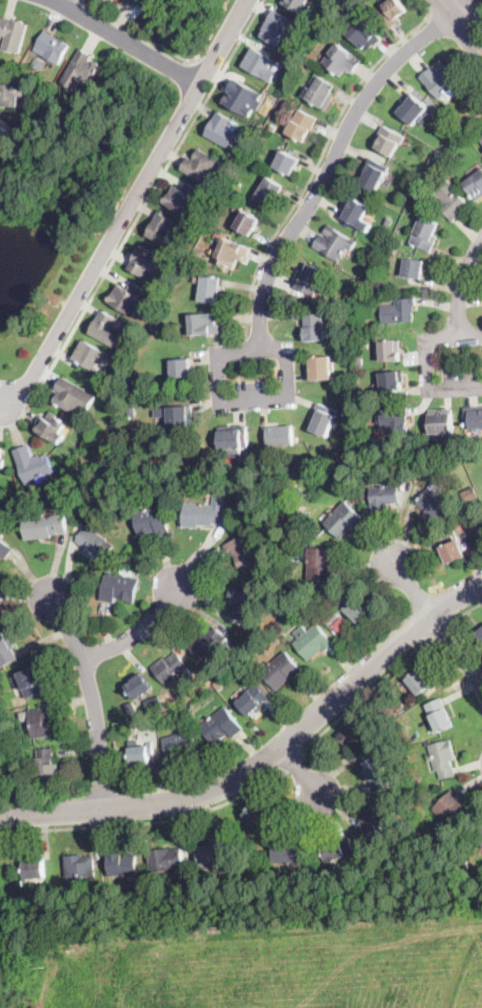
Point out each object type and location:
building: (113, 0)
road: (59, 1)
building: (134, 2)
building: (296, 4)
road: (438, 7)
building: (154, 8)
road: (472, 8)
building: (392, 12)
road: (479, 18)
building: (276, 27)
road: (462, 27)
building: (310, 32)
building: (364, 34)
building: (13, 35)
road: (140, 35)
road: (127, 41)
building: (53, 47)
building: (341, 60)
building: (37, 65)
building: (260, 65)
road: (208, 67)
building: (80, 70)
building: (442, 80)
building: (321, 92)
building: (43, 94)
building: (11, 95)
building: (243, 97)
building: (411, 108)
building: (462, 124)
building: (302, 125)
building: (272, 127)
building: (453, 129)
building: (2, 131)
building: (223, 131)
building: (388, 140)
building: (481, 140)
building: (438, 154)
road: (335, 155)
building: (287, 162)
road: (318, 162)
building: (432, 163)
building: (203, 169)
building: (371, 176)
building: (409, 180)
building: (475, 185)
building: (222, 188)
building: (269, 193)
building: (183, 199)
building: (450, 200)
road: (144, 204)
road: (130, 207)
building: (235, 207)
building: (354, 211)
building: (388, 221)
building: (215, 222)
building: (247, 223)
building: (164, 231)
building: (425, 234)
building: (334, 243)
building: (232, 253)
building: (147, 262)
building: (413, 268)
building: (368, 277)
building: (309, 279)
building: (210, 289)
building: (376, 290)
road: (458, 297)
building: (127, 298)
building: (398, 311)
building: (359, 322)
building: (203, 324)
building: (315, 327)
building: (107, 329)
building: (390, 351)
building: (92, 356)
building: (359, 361)
building: (181, 368)
building: (319, 368)
building: (392, 380)
building: (122, 388)
building: (74, 396)
road: (239, 400)
building: (131, 412)
building: (473, 417)
building: (180, 418)
building: (395, 419)
building: (324, 420)
building: (441, 422)
building: (52, 428)
building: (280, 436)
building: (233, 437)
building: (1, 453)
building: (32, 464)
building: (470, 492)
building: (300, 493)
building: (76, 494)
building: (383, 498)
building: (435, 504)
building: (242, 506)
building: (107, 509)
building: (205, 513)
building: (474, 518)
building: (343, 520)
building: (151, 522)
building: (260, 523)
building: (44, 527)
building: (94, 544)
building: (465, 544)
building: (4, 549)
building: (246, 551)
building: (453, 552)
building: (126, 558)
building: (321, 565)
building: (261, 585)
building: (120, 586)
building: (339, 591)
building: (242, 602)
building: (352, 607)
road: (466, 609)
building: (327, 611)
road: (437, 624)
building: (341, 625)
road: (438, 629)
road: (134, 632)
building: (480, 634)
building: (312, 641)
building: (207, 642)
building: (6, 650)
building: (170, 668)
building: (282, 670)
building: (418, 681)
building: (30, 682)
building: (218, 684)
building: (138, 687)
road: (360, 694)
road: (91, 699)
building: (252, 699)
building: (154, 704)
building: (190, 705)
building: (439, 714)
building: (38, 722)
building: (163, 723)
building: (144, 724)
building: (220, 726)
building: (355, 736)
building: (179, 745)
building: (142, 755)
road: (266, 758)
building: (443, 758)
road: (289, 762)
building: (46, 768)
road: (300, 771)
building: (376, 774)
building: (448, 811)
building: (257, 818)
road: (145, 820)
building: (374, 823)
building: (481, 836)
building: (338, 849)
building: (286, 850)
building: (213, 853)
building: (166, 860)
building: (122, 864)
building: (80, 865)
building: (464, 865)
building: (34, 869)
building: (260, 879)
building: (152, 887)
building: (127, 894)

